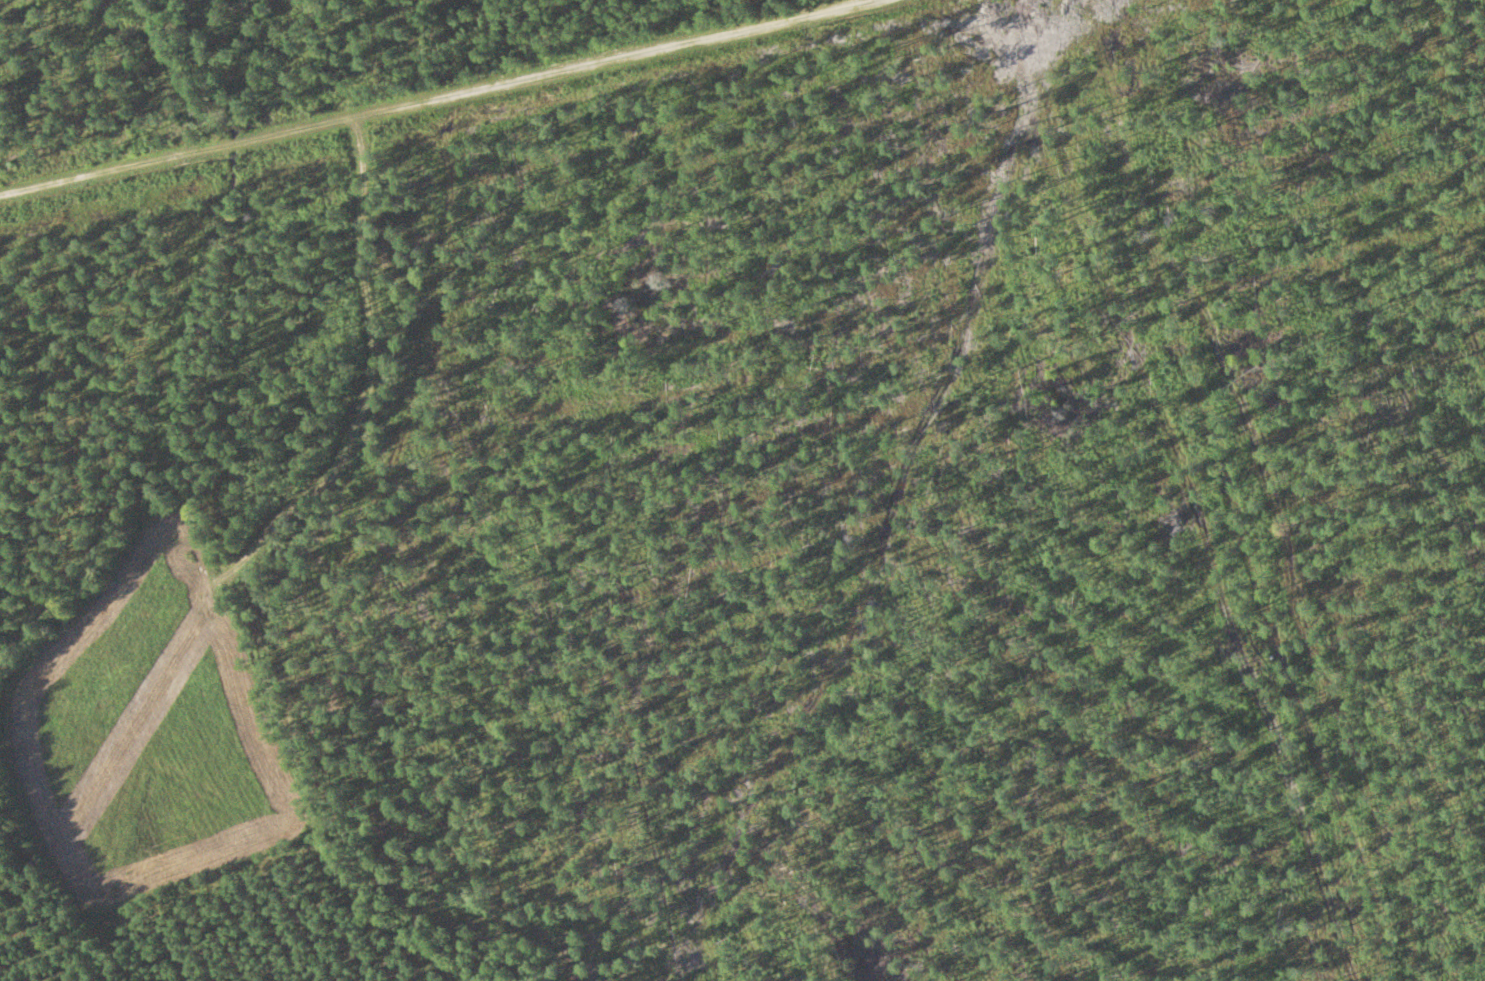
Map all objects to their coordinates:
road: (540, 121)

